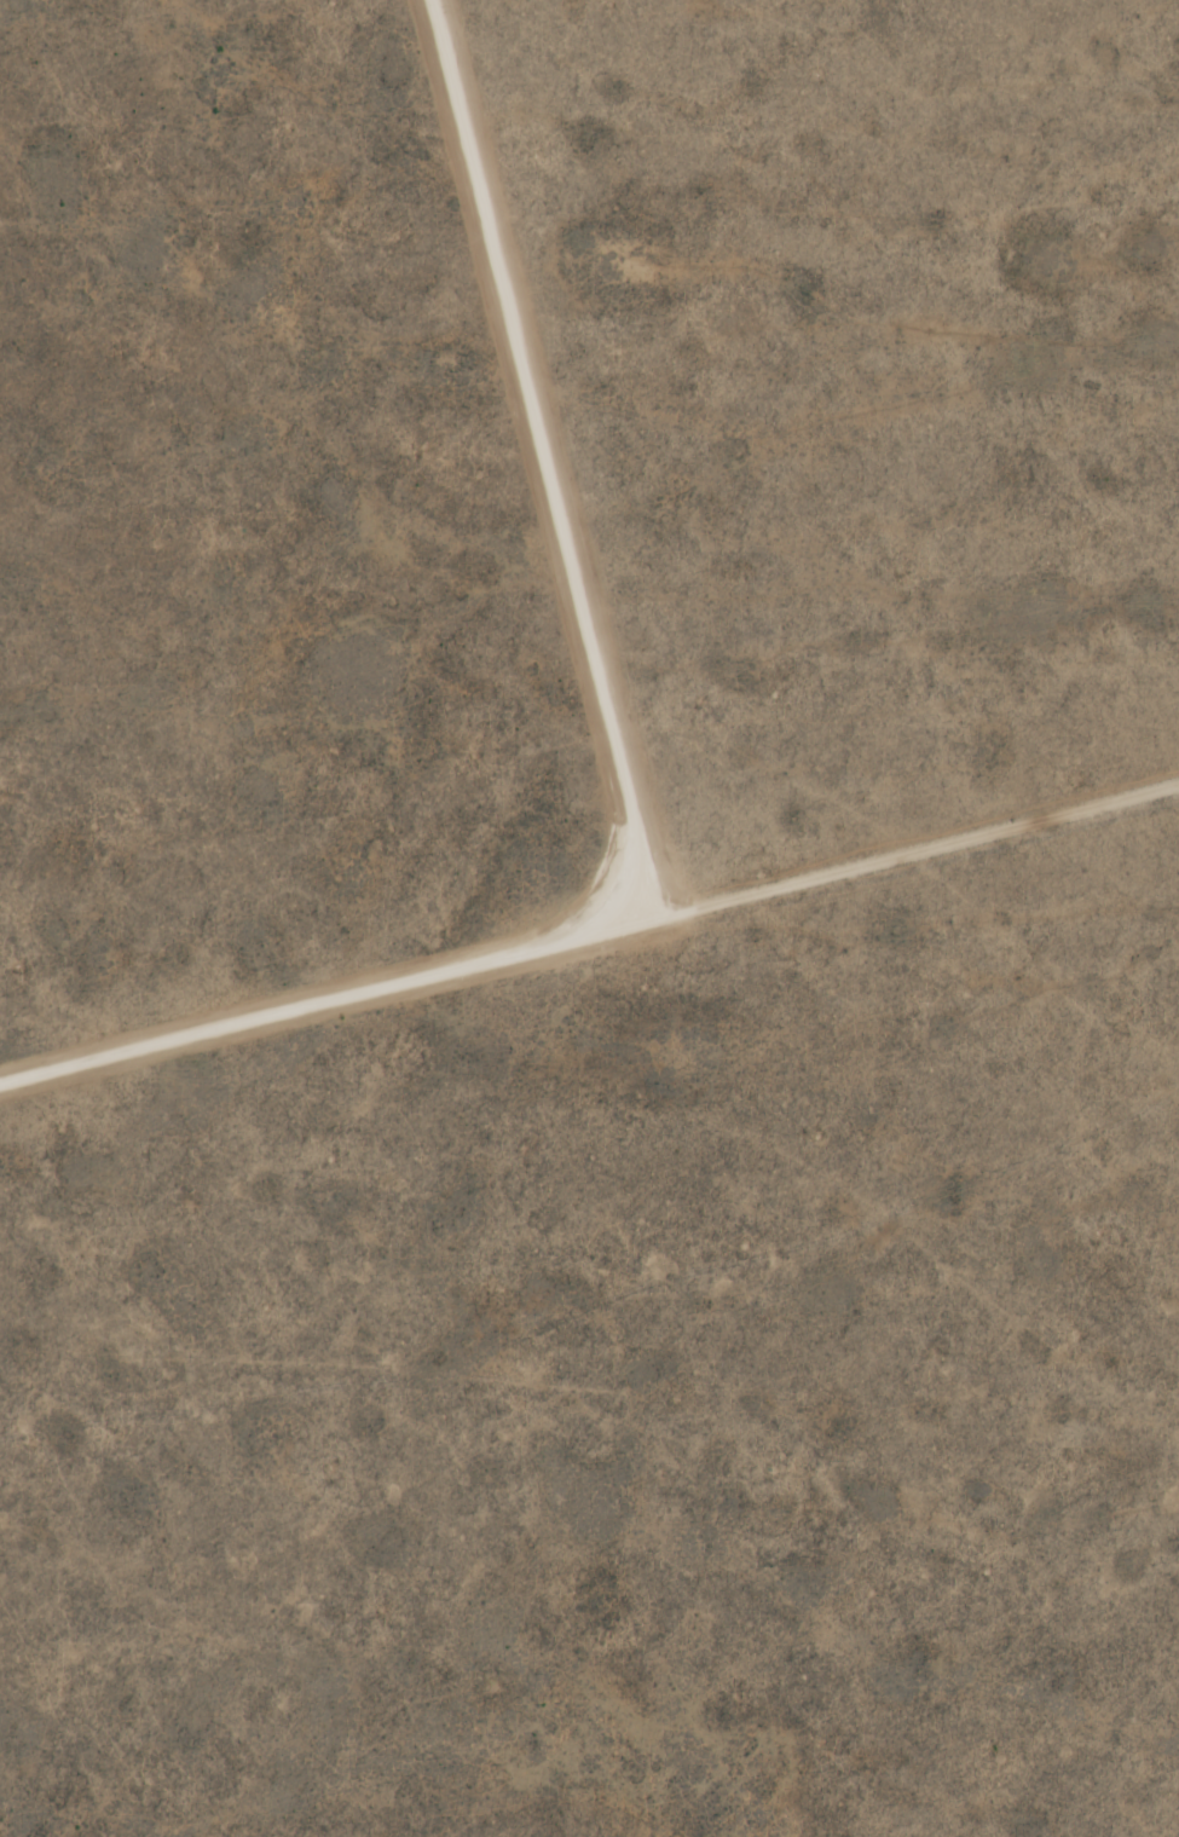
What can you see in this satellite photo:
road: (589, 934)

